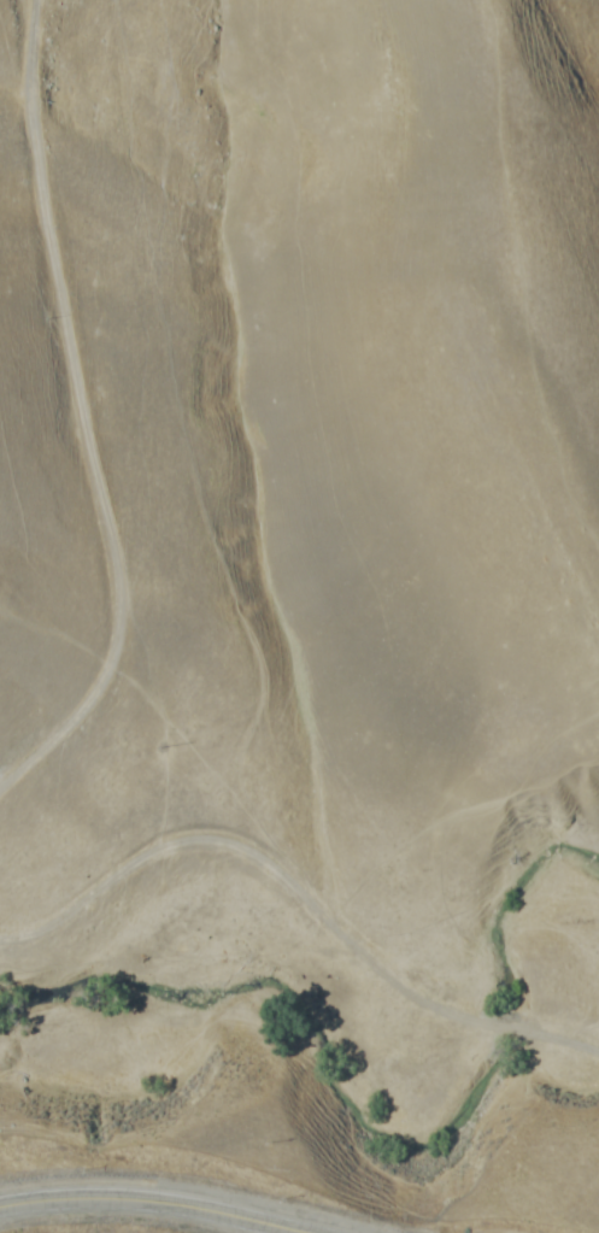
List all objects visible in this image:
road: (84, 416)
road: (301, 893)
road: (207, 1184)

